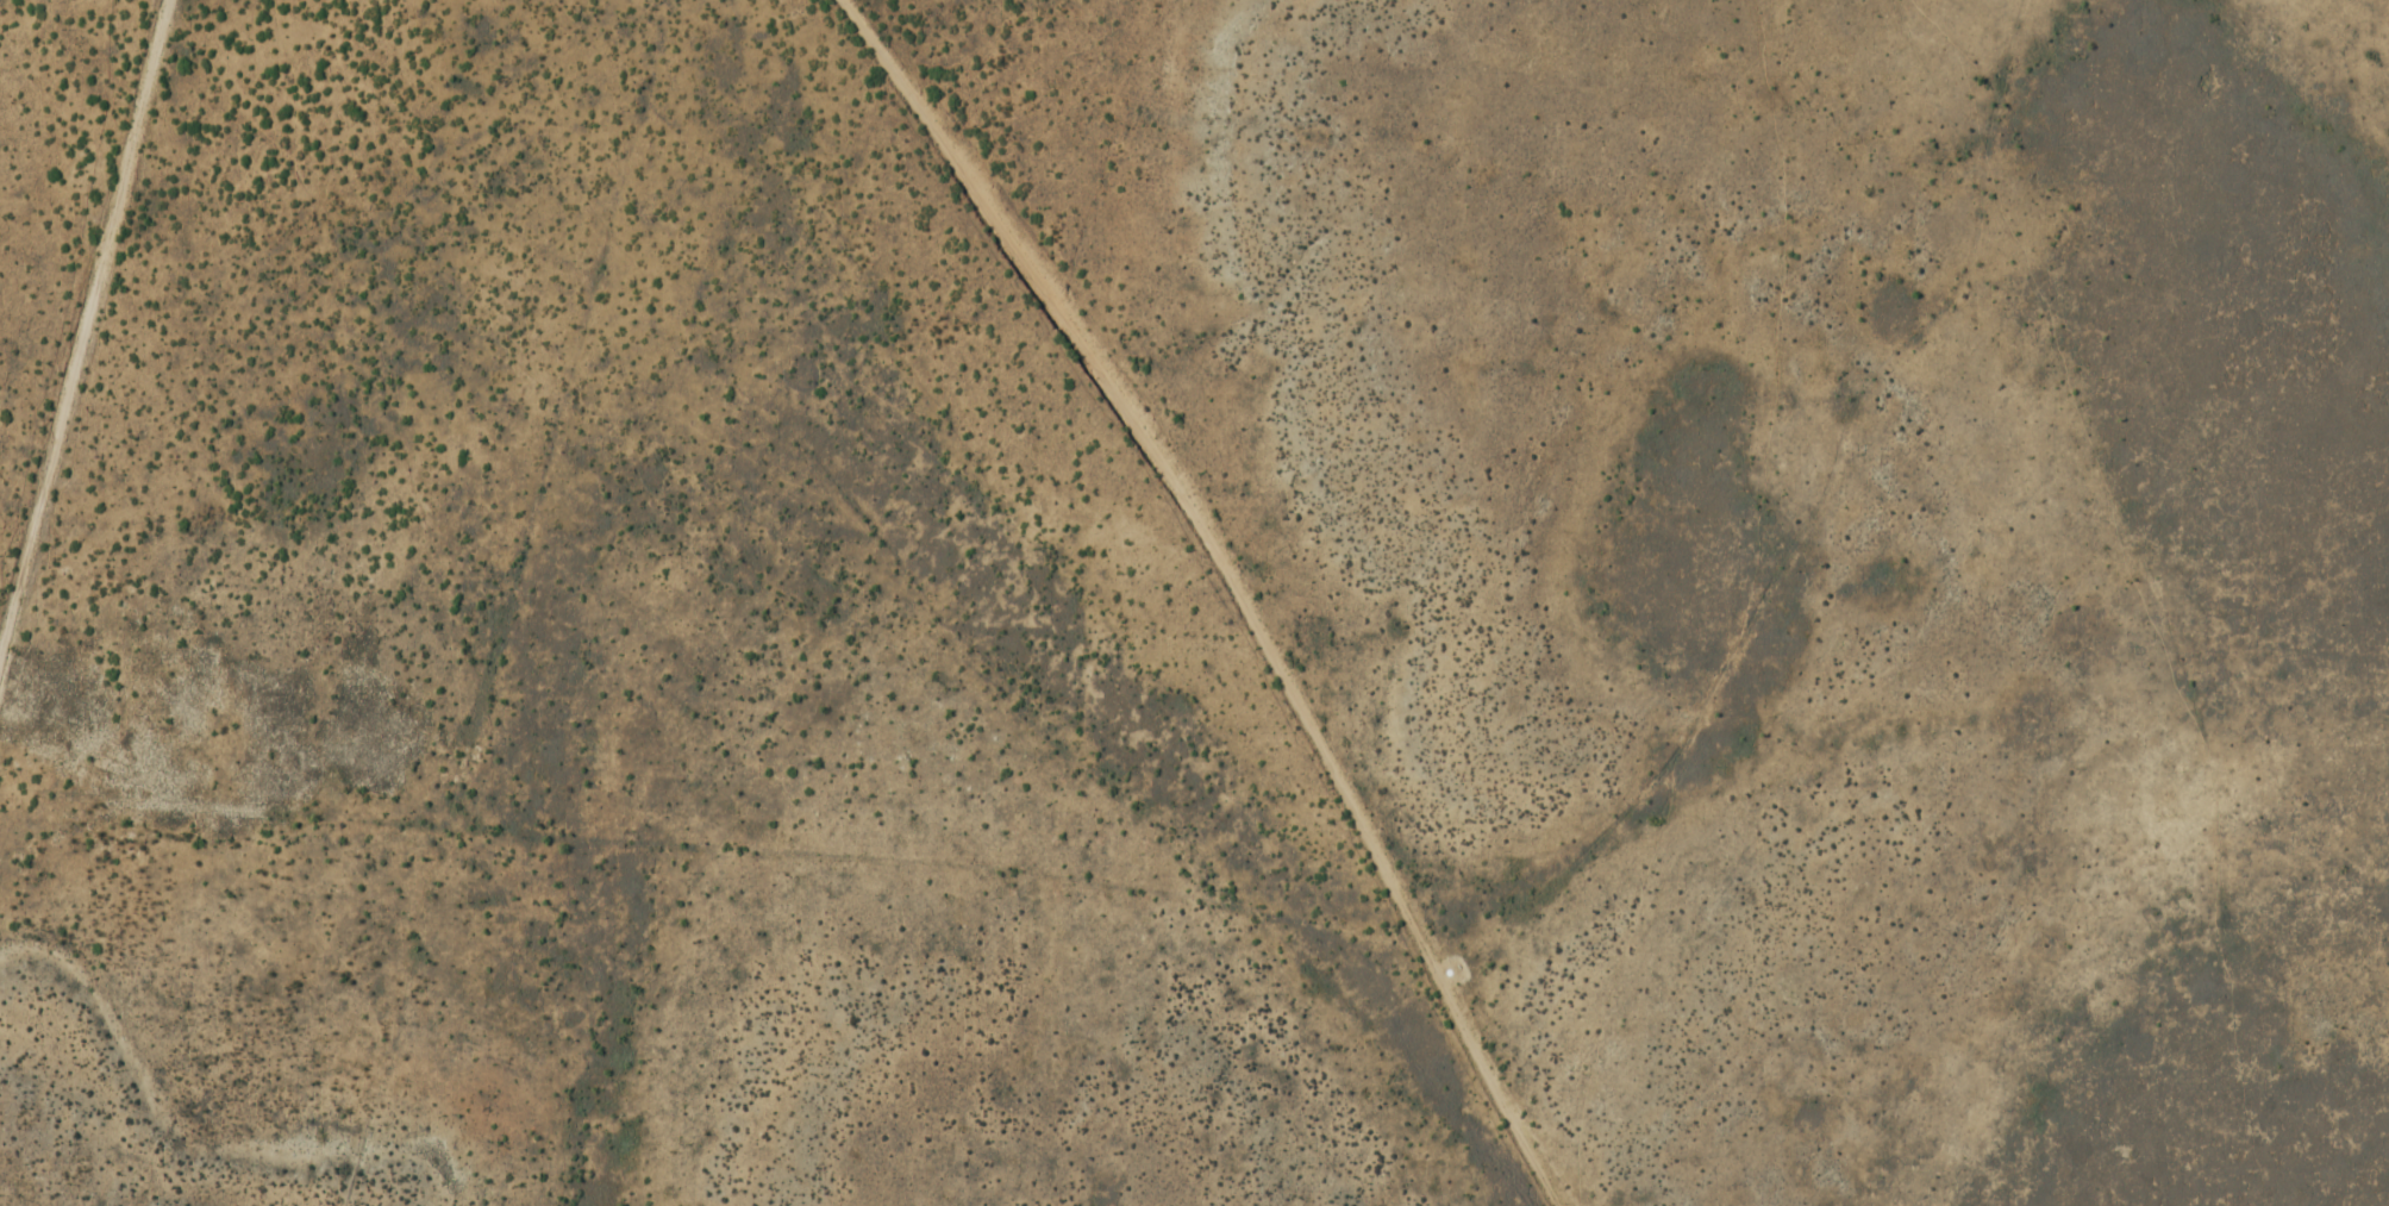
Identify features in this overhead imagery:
road: (82, 331)
road: (1245, 583)

